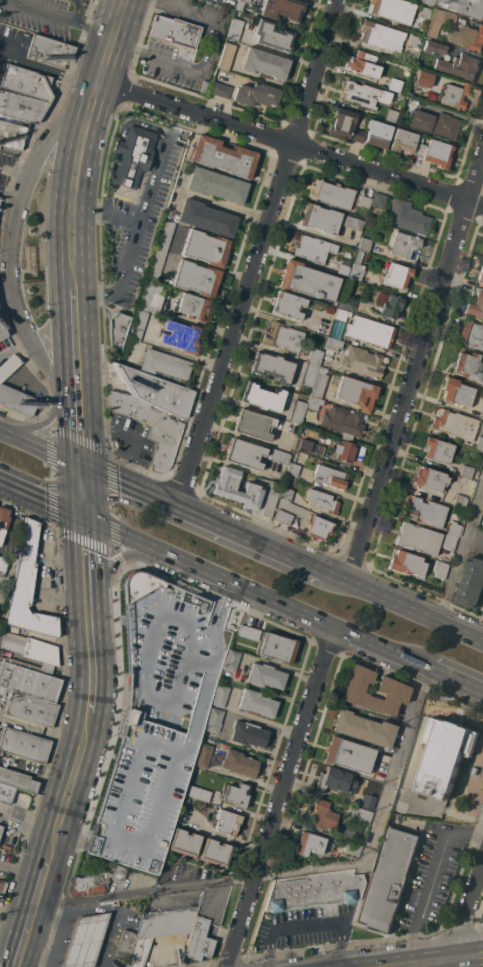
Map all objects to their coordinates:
building: (244, 1)
building: (428, 2)
building: (464, 6)
road: (76, 9)
building: (282, 9)
building: (392, 10)
building: (424, 12)
parking lot: (38, 16)
road: (67, 17)
building: (437, 22)
building: (234, 29)
building: (175, 31)
building: (273, 36)
building: (381, 36)
building: (467, 37)
road: (113, 41)
building: (415, 41)
building: (437, 47)
building: (47, 48)
building: (225, 56)
road: (204, 58)
building: (264, 64)
building: (365, 64)
building: (459, 65)
road: (49, 71)
building: (423, 79)
building: (26, 82)
building: (220, 90)
building: (360, 94)
building: (256, 95)
building: (454, 96)
building: (21, 107)
building: (391, 116)
building: (341, 123)
building: (435, 124)
building: (377, 134)
building: (12, 135)
building: (358, 136)
road: (118, 141)
building: (402, 141)
road: (292, 143)
building: (420, 150)
building: (438, 154)
building: (133, 155)
building: (223, 157)
road: (13, 173)
road: (74, 184)
building: (216, 185)
road: (9, 193)
building: (331, 195)
building: (378, 200)
building: (364, 202)
road: (141, 214)
building: (407, 217)
building: (206, 218)
building: (319, 219)
parking lot: (140, 222)
building: (352, 223)
building: (165, 236)
road: (9, 238)
building: (364, 244)
building: (404, 244)
building: (205, 248)
building: (312, 248)
building: (482, 251)
road: (259, 253)
building: (156, 265)
building: (357, 267)
building: (342, 270)
building: (480, 274)
building: (397, 275)
road: (123, 279)
building: (196, 279)
building: (308, 281)
building: (145, 295)
building: (154, 303)
building: (347, 304)
building: (192, 305)
building: (287, 305)
building: (391, 307)
building: (475, 307)
building: (341, 314)
building: (138, 325)
building: (117, 328)
building: (2, 329)
building: (370, 331)
building: (472, 335)
building: (180, 337)
building: (283, 337)
road: (77, 344)
building: (331, 345)
building: (315, 357)
building: (361, 362)
building: (164, 364)
building: (8, 365)
building: (468, 366)
building: (272, 367)
road: (415, 368)
building: (310, 375)
building: (319, 385)
building: (156, 391)
building: (457, 392)
building: (356, 393)
building: (263, 397)
building: (17, 401)
building: (314, 403)
building: (297, 412)
building: (482, 416)
building: (343, 421)
building: (253, 424)
building: (455, 424)
road: (44, 425)
building: (150, 427)
road: (81, 433)
building: (479, 443)
road: (41, 447)
building: (309, 447)
building: (437, 450)
building: (344, 453)
building: (243, 454)
building: (279, 457)
traffic signals: (82, 466)
building: (292, 469)
building: (466, 472)
building: (329, 477)
building: (429, 480)
building: (223, 487)
road: (82, 492)
building: (285, 494)
building: (270, 499)
road: (41, 500)
building: (459, 501)
building: (322, 502)
building: (482, 510)
building: (425, 512)
traffic signals: (83, 518)
road: (205, 518)
building: (286, 519)
building: (5, 525)
building: (318, 528)
building: (454, 529)
road: (476, 535)
building: (417, 538)
building: (448, 542)
road: (462, 553)
building: (26, 556)
road: (125, 560)
building: (3, 564)
building: (406, 564)
building: (439, 569)
building: (472, 583)
road: (247, 590)
road: (406, 604)
road: (89, 614)
building: (28, 615)
building: (248, 632)
building: (278, 648)
building: (29, 651)
road: (142, 653)
building: (232, 661)
building: (265, 676)
road: (447, 677)
building: (28, 679)
building: (392, 689)
building: (3, 691)
building: (221, 696)
building: (256, 703)
building: (31, 709)
building: (156, 717)
building: (213, 720)
building: (362, 729)
building: (247, 735)
building: (24, 745)
building: (347, 755)
building: (445, 755)
power substation: (445, 755)
building: (202, 756)
building: (238, 764)
power substation: (442, 765)
building: (17, 780)
building: (333, 780)
road: (72, 782)
building: (6, 793)
building: (198, 794)
building: (234, 794)
road: (281, 797)
building: (185, 799)
building: (366, 801)
building: (321, 815)
building: (359, 815)
building: (226, 822)
building: (0, 833)
building: (183, 843)
building: (308, 844)
building: (351, 848)
building: (215, 853)
road: (284, 874)
building: (387, 878)
building: (94, 882)
road: (430, 882)
building: (2, 889)
building: (314, 890)
road: (102, 908)
road: (35, 909)
road: (467, 913)
building: (482, 919)
building: (159, 930)
road: (14, 936)
building: (84, 940)
gas station: (84, 940)
building: (198, 940)
building: (124, 944)
road: (52, 953)
road: (441, 961)
road: (49, 966)

